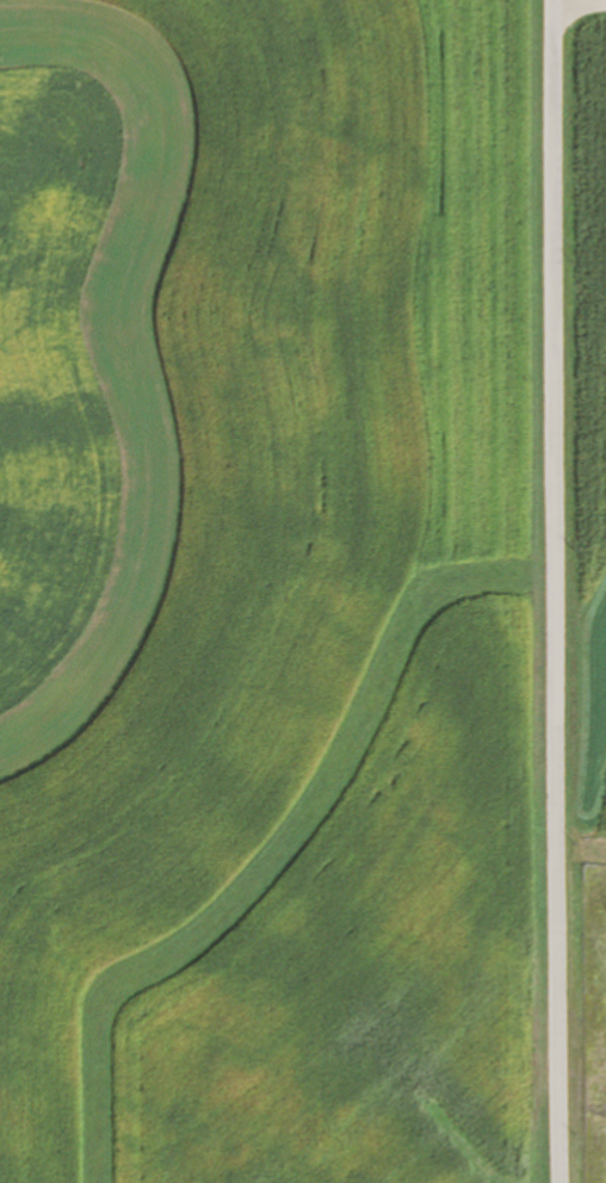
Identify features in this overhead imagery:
road: (552, 591)

